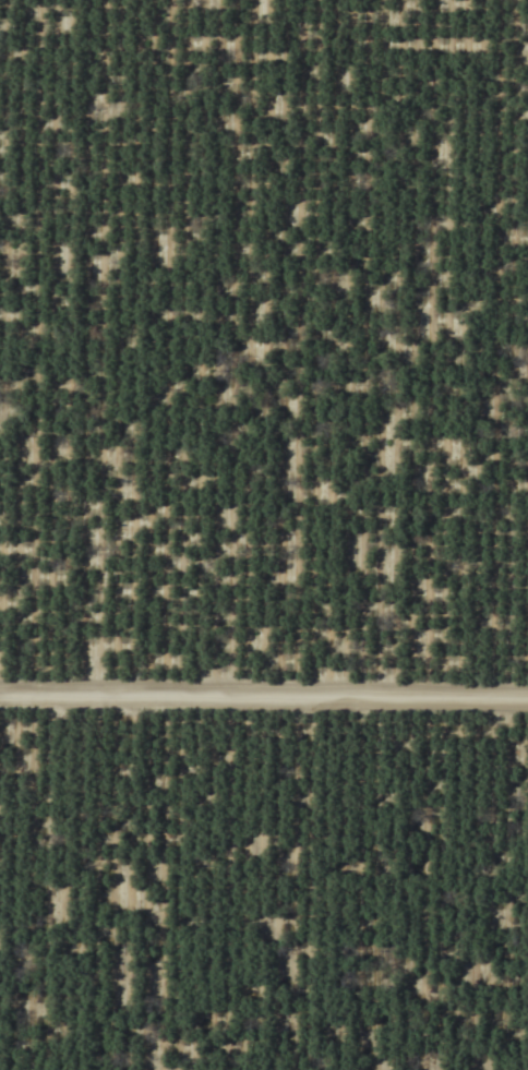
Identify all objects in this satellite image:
crop: (264, 534)

